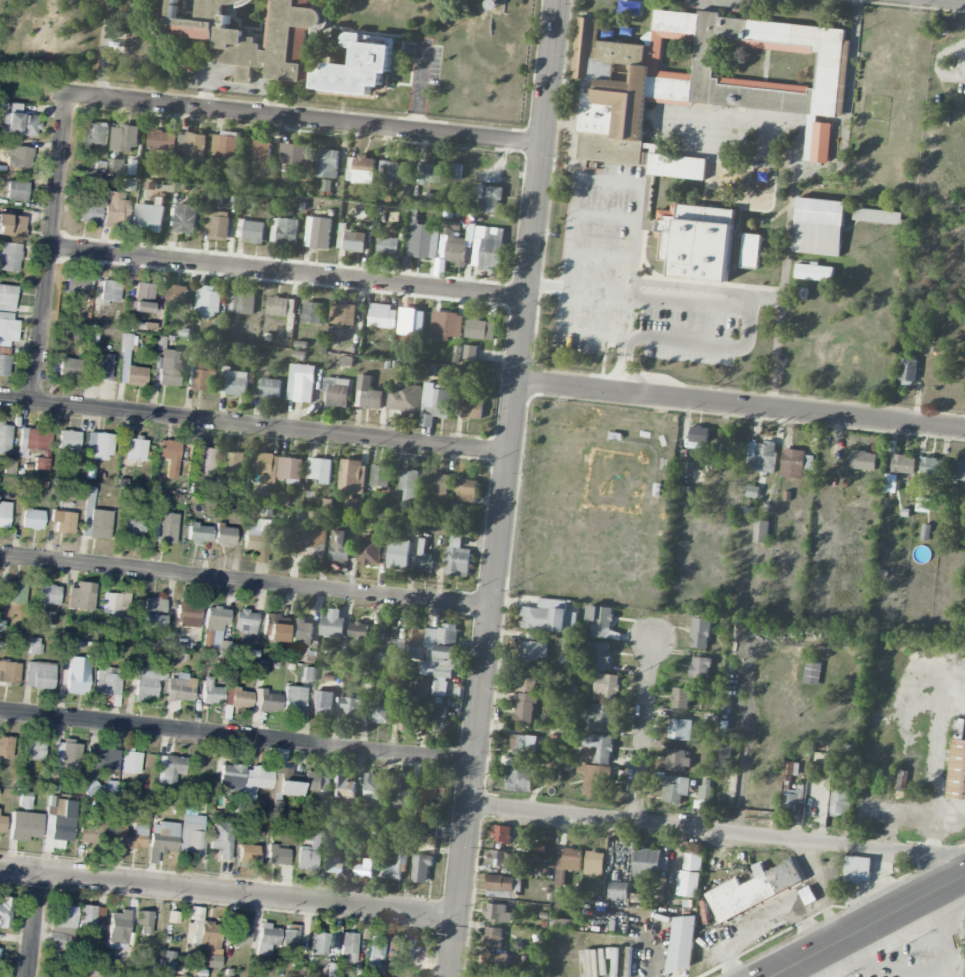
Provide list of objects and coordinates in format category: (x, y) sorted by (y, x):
building: (250, 32)
road: (103, 48)
building: (358, 68)
road: (235, 69)
building: (708, 69)
road: (297, 116)
building: (94, 133)
building: (124, 138)
building: (162, 140)
building: (818, 142)
building: (224, 144)
building: (192, 145)
building: (260, 150)
building: (613, 150)
building: (293, 154)
building: (18, 157)
building: (327, 163)
building: (677, 166)
building: (361, 170)
building: (394, 171)
building: (455, 171)
building: (431, 173)
road: (623, 181)
road: (793, 187)
building: (16, 191)
building: (486, 199)
building: (114, 210)
building: (88, 213)
building: (877, 216)
building: (149, 217)
building: (185, 218)
building: (216, 224)
building: (12, 226)
building: (818, 227)
building: (253, 231)
building: (284, 231)
building: (317, 232)
building: (421, 240)
building: (355, 241)
building: (695, 242)
building: (388, 246)
building: (486, 246)
road: (52, 247)
building: (455, 249)
building: (751, 250)
building: (10, 257)
building: (814, 272)
road: (289, 273)
building: (78, 284)
building: (176, 294)
road: (640, 295)
road: (761, 296)
building: (7, 298)
building: (143, 299)
building: (208, 301)
building: (242, 303)
building: (281, 306)
building: (312, 312)
building: (343, 314)
road: (629, 315)
building: (382, 316)
building: (411, 321)
building: (446, 325)
building: (7, 329)
building: (480, 329)
building: (127, 342)
road: (703, 344)
building: (471, 352)
road: (621, 353)
road: (627, 354)
building: (4, 365)
building: (68, 368)
building: (101, 368)
building: (169, 368)
building: (908, 370)
building: (135, 376)
building: (203, 377)
road: (623, 381)
building: (236, 382)
building: (301, 383)
building: (270, 388)
building: (337, 392)
building: (369, 393)
building: (404, 397)
road: (741, 404)
building: (434, 405)
building: (473, 409)
road: (255, 425)
building: (699, 430)
building: (4, 438)
building: (68, 440)
building: (33, 441)
building: (99, 446)
building: (136, 450)
building: (169, 456)
building: (761, 456)
building: (863, 460)
building: (205, 462)
building: (232, 462)
building: (795, 463)
building: (39, 464)
building: (903, 464)
building: (279, 466)
building: (931, 467)
building: (320, 469)
building: (961, 470)
building: (352, 476)
building: (380, 476)
building: (409, 484)
building: (439, 486)
road: (506, 488)
building: (466, 490)
building: (752, 491)
building: (354, 504)
building: (4, 514)
building: (31, 519)
building: (964, 519)
building: (63, 522)
building: (165, 528)
building: (133, 529)
building: (761, 531)
building: (925, 532)
building: (199, 533)
building: (310, 535)
building: (224, 536)
building: (257, 540)
building: (340, 545)
building: (371, 549)
building: (399, 554)
building: (457, 557)
building: (423, 560)
road: (247, 580)
building: (964, 581)
building: (15, 593)
building: (48, 595)
building: (82, 596)
building: (115, 607)
building: (154, 612)
building: (187, 615)
building: (548, 618)
building: (215, 619)
building: (600, 622)
building: (332, 624)
building: (245, 626)
building: (276, 628)
building: (359, 631)
building: (302, 632)
building: (700, 633)
building: (34, 646)
building: (533, 650)
building: (391, 652)
building: (437, 654)
building: (142, 655)
building: (598, 656)
building: (308, 657)
building: (339, 661)
building: (963, 664)
building: (700, 667)
building: (9, 672)
building: (77, 674)
building: (308, 675)
building: (39, 676)
building: (150, 678)
building: (108, 681)
building: (527, 682)
building: (606, 687)
building: (180, 689)
building: (210, 692)
building: (236, 698)
building: (680, 698)
building: (294, 700)
building: (269, 702)
building: (322, 703)
building: (352, 707)
building: (524, 709)
building: (379, 713)
building: (600, 718)
building: (437, 719)
building: (711, 720)
building: (410, 721)
road: (644, 728)
building: (680, 729)
road: (238, 736)
road: (749, 739)
building: (523, 745)
building: (6, 747)
building: (597, 748)
building: (721, 749)
building: (33, 750)
building: (66, 756)
building: (678, 759)
building: (100, 760)
building: (130, 763)
building: (790, 768)
building: (170, 769)
building: (813, 770)
building: (956, 770)
building: (231, 774)
building: (521, 780)
building: (255, 781)
building: (597, 781)
building: (286, 782)
building: (316, 782)
building: (371, 785)
building: (675, 788)
building: (344, 789)
building: (704, 791)
building: (402, 797)
building: (792, 798)
building: (24, 802)
building: (839, 802)
building: (431, 803)
building: (276, 808)
building: (59, 820)
building: (2, 824)
building: (25, 826)
road: (718, 830)
building: (502, 834)
building: (191, 835)
building: (127, 838)
building: (161, 839)
building: (222, 840)
building: (310, 849)
building: (247, 854)
building: (278, 856)
building: (504, 859)
building: (693, 861)
building: (397, 862)
building: (594, 863)
building: (649, 863)
building: (333, 864)
building: (566, 864)
building: (421, 867)
building: (364, 869)
building: (856, 869)
building: (688, 883)
building: (618, 890)
building: (753, 890)
road: (229, 893)
building: (5, 912)
building: (497, 912)
building: (90, 917)
building: (143, 922)
building: (557, 923)
road: (35, 926)
building: (118, 927)
road: (869, 927)
building: (241, 936)
building: (493, 936)
building: (290, 938)
building: (266, 939)
building: (211, 942)
building: (682, 943)
building: (318, 944)
building: (348, 947)
building: (406, 948)
building: (375, 950)
building: (496, 959)
building: (635, 962)
building: (167, 963)
building: (85, 974)
road: (777, 976)

